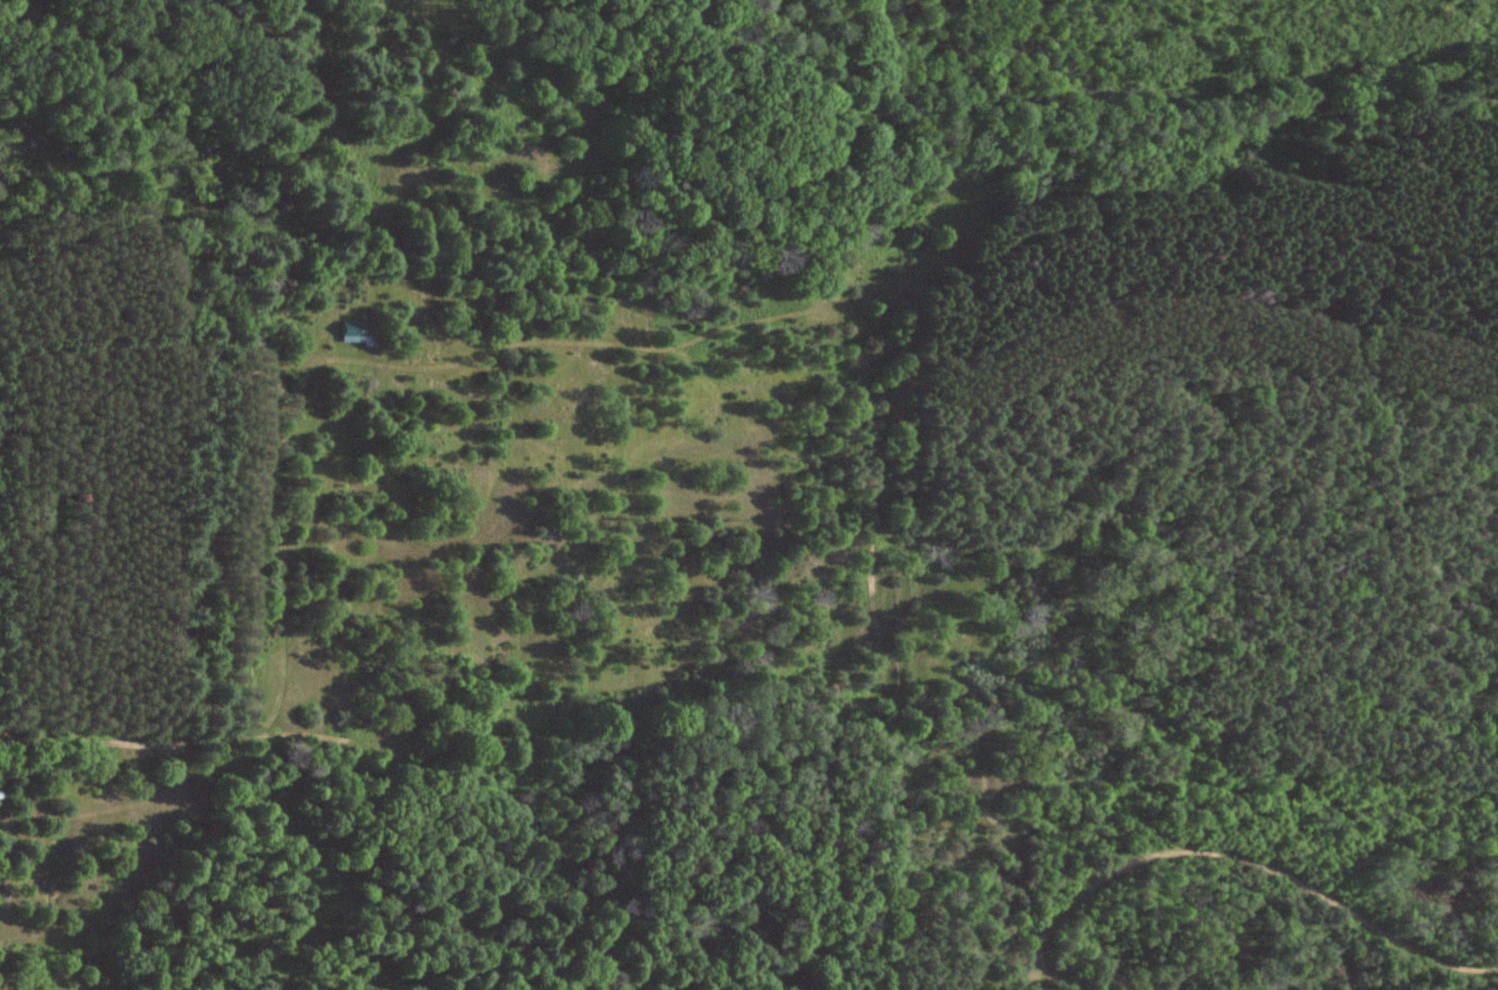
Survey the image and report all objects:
building: (350, 331)
road: (184, 736)

